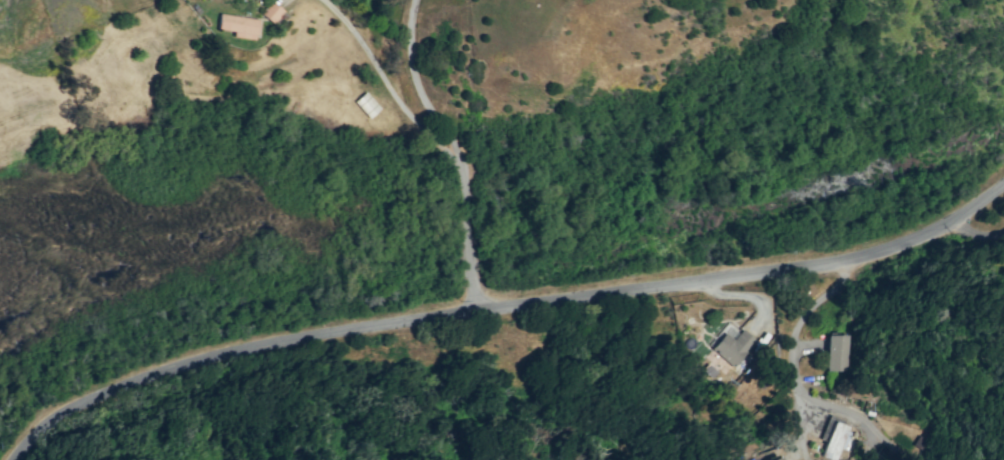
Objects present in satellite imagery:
building: (271, 12)
building: (237, 25)
road: (386, 81)
building: (366, 104)
road: (455, 151)
road: (976, 229)
road: (506, 309)
building: (731, 345)
building: (835, 352)
road: (638, 373)
road: (796, 392)
building: (834, 439)
building: (775, 458)

